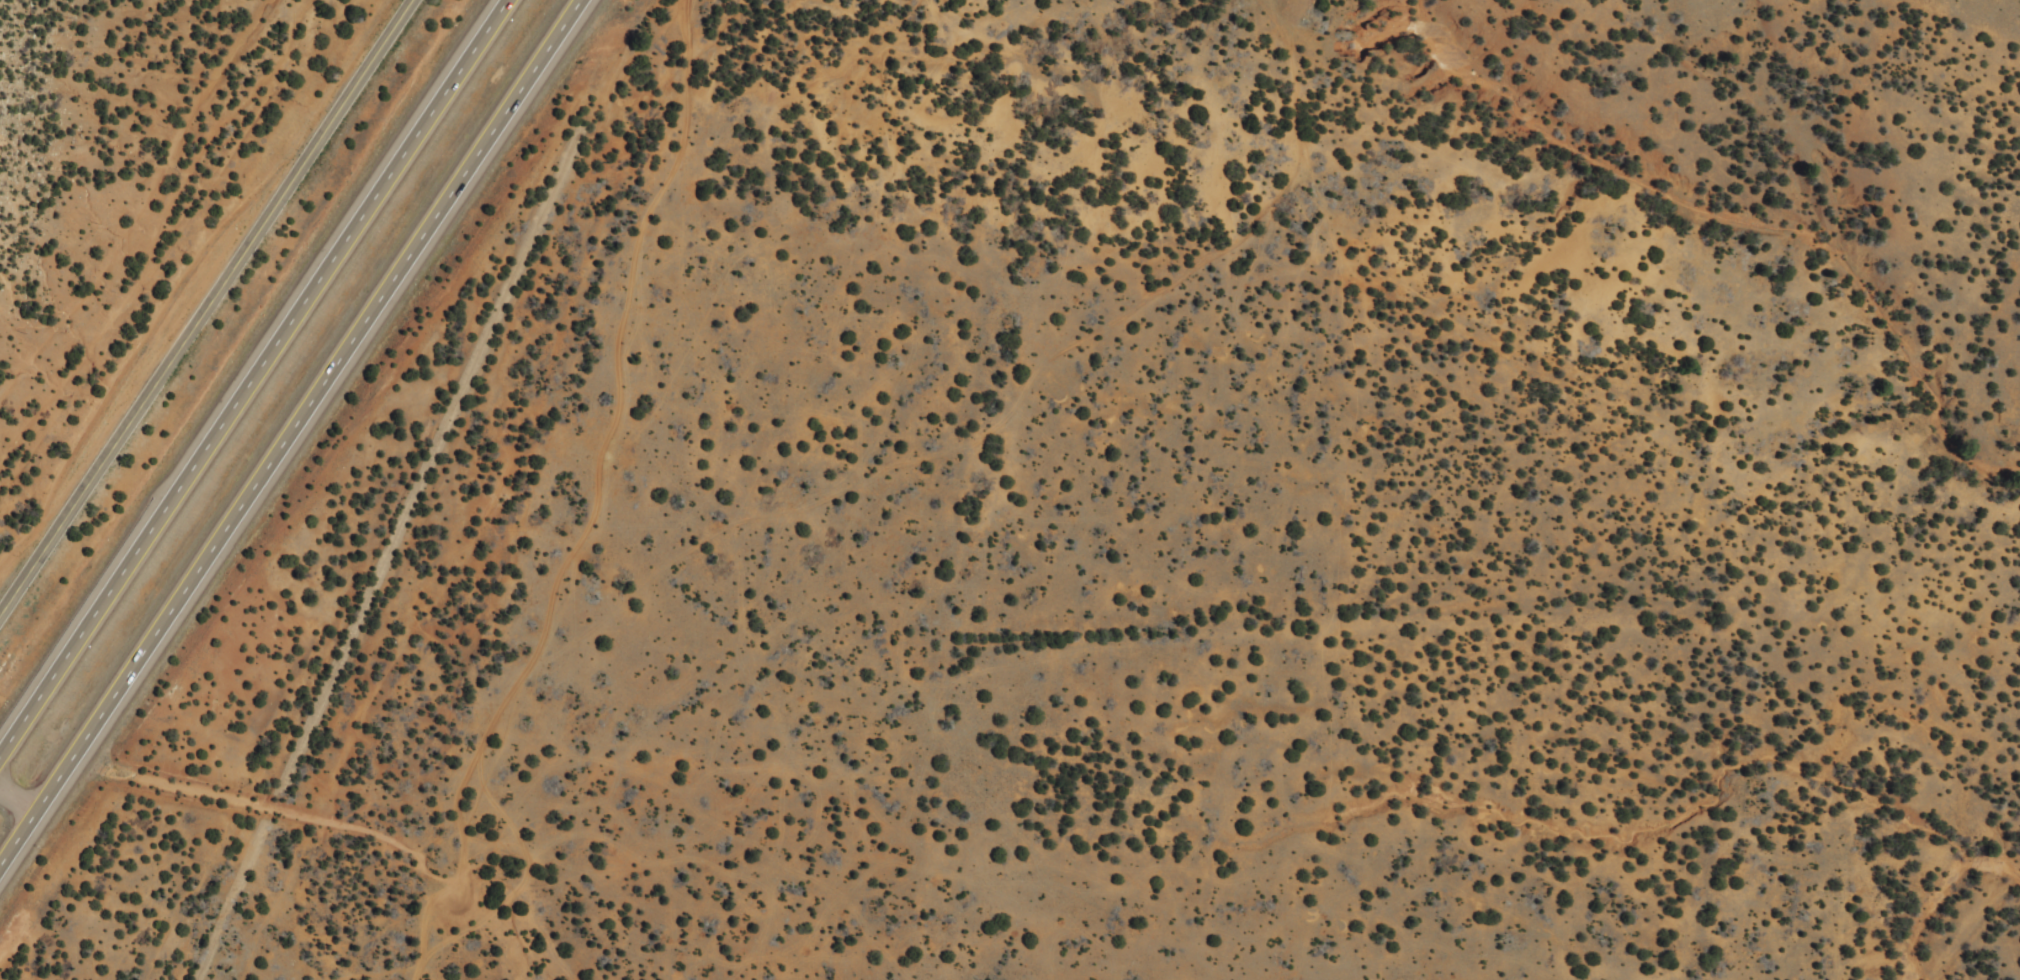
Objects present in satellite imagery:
road: (205, 305)
road: (258, 383)
road: (291, 431)
road: (19, 795)

